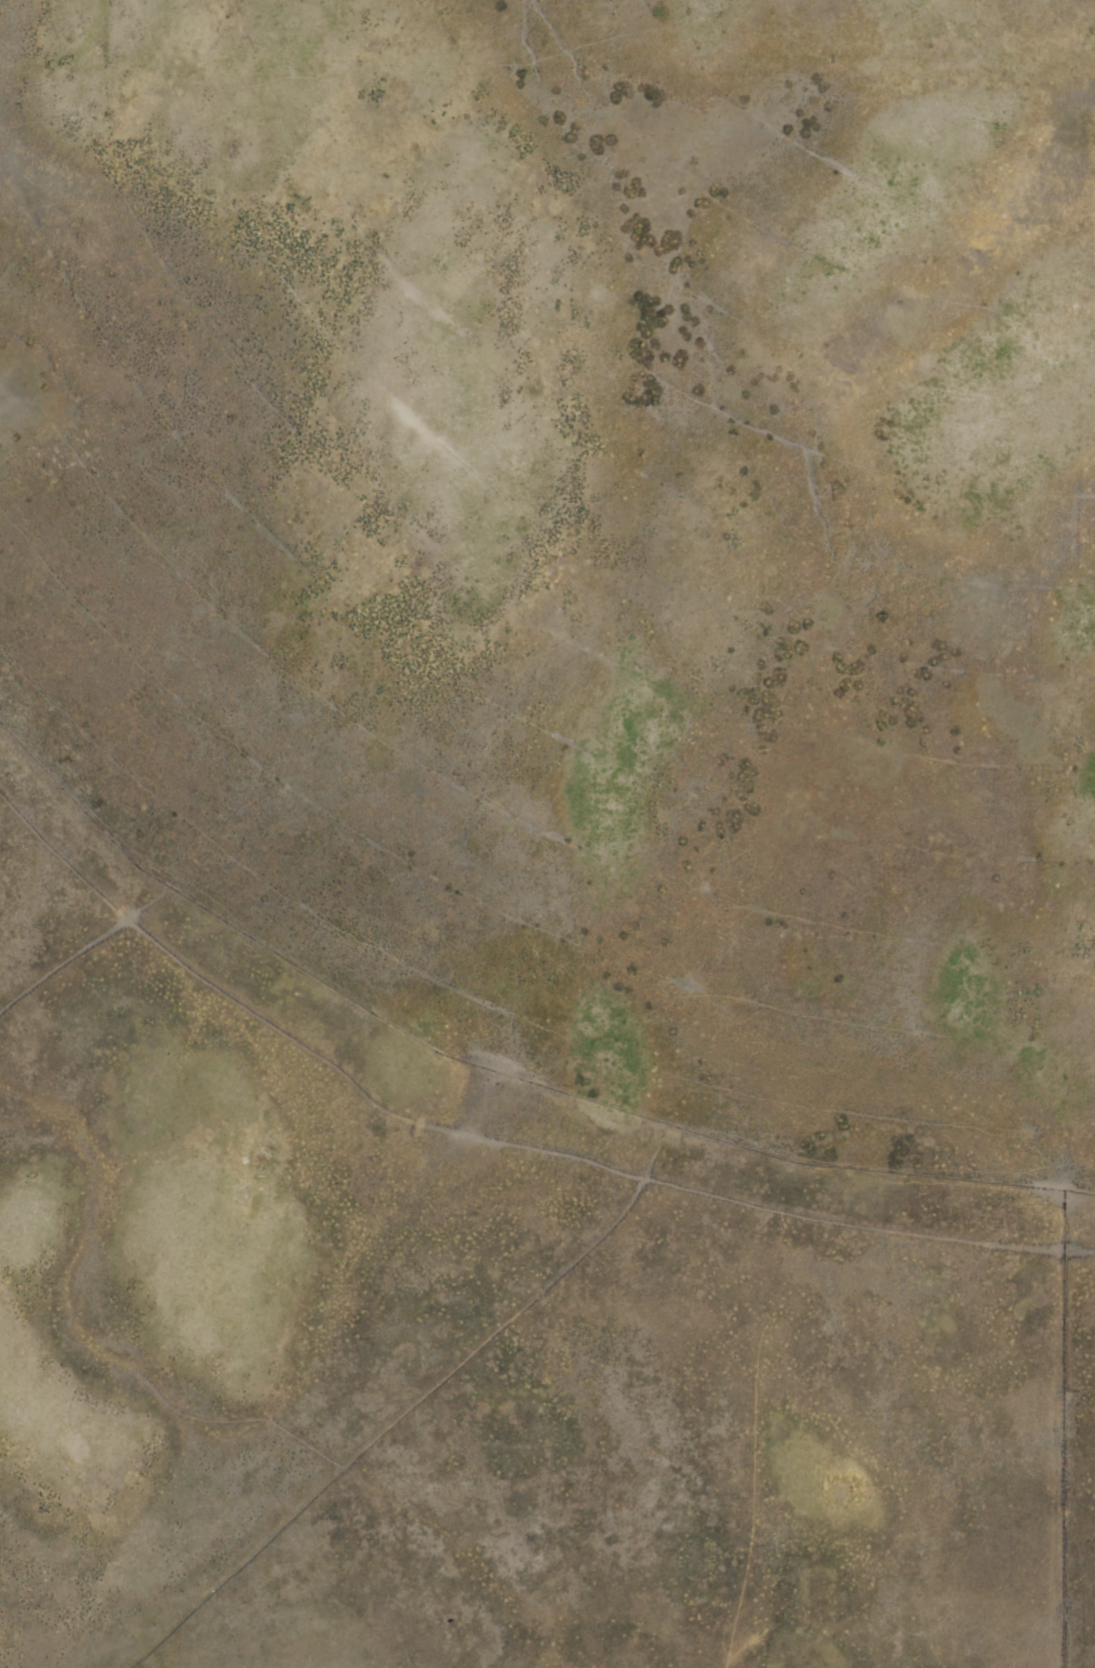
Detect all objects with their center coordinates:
crop: (547, 833)

